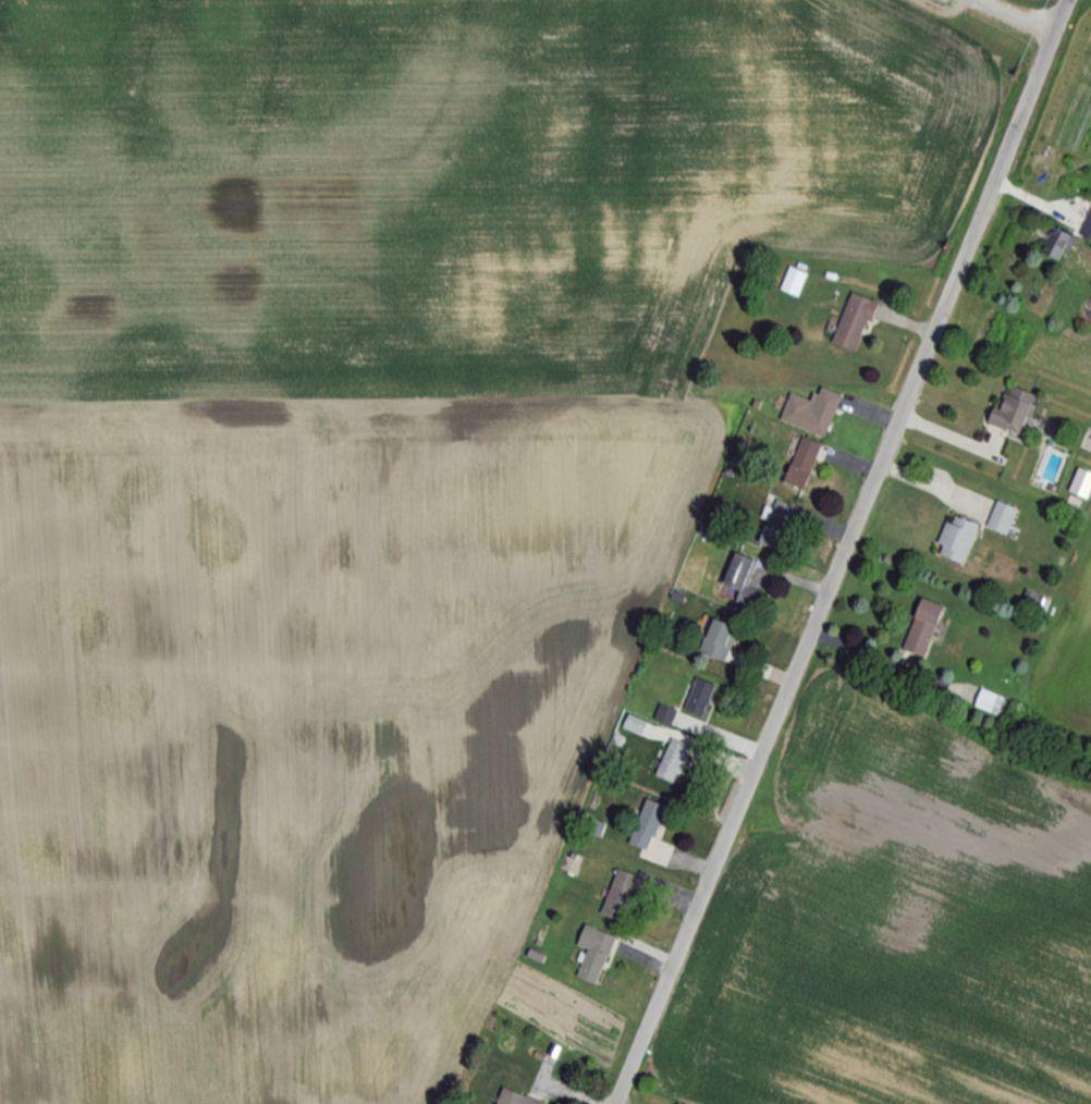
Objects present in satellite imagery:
road: (966, 0)
road: (1008, 17)
building: (1084, 229)
building: (1055, 245)
building: (790, 281)
building: (850, 321)
building: (1008, 408)
building: (809, 412)
building: (798, 463)
building: (1000, 517)
building: (774, 524)
building: (954, 539)
road: (841, 551)
building: (736, 572)
building: (919, 627)
building: (715, 639)
building: (697, 698)
building: (985, 701)
building: (672, 759)
building: (643, 825)
building: (616, 895)
building: (590, 953)

